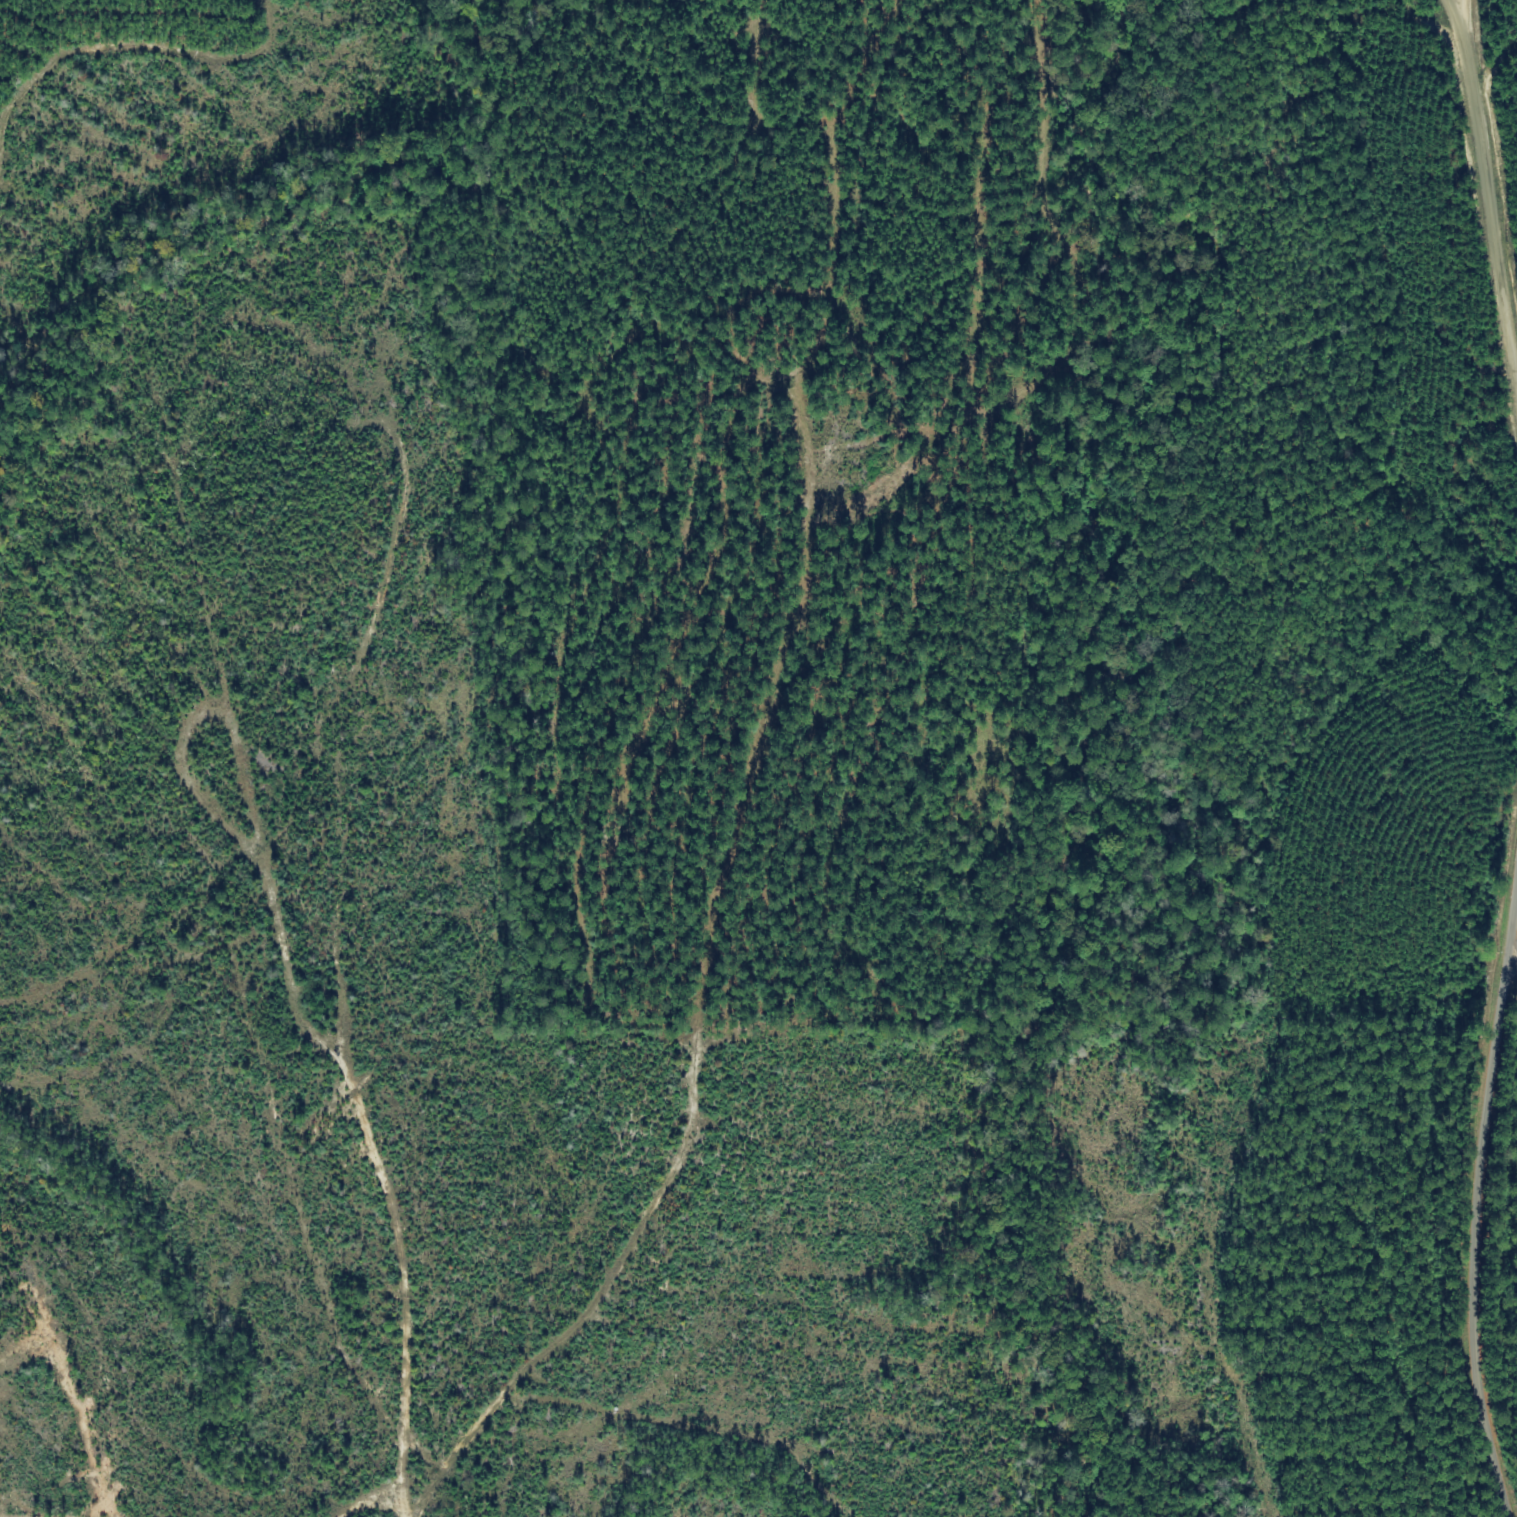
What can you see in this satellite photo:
road: (1494, 48)
road: (349, 930)
road: (1514, 957)
road: (1461, 1217)

